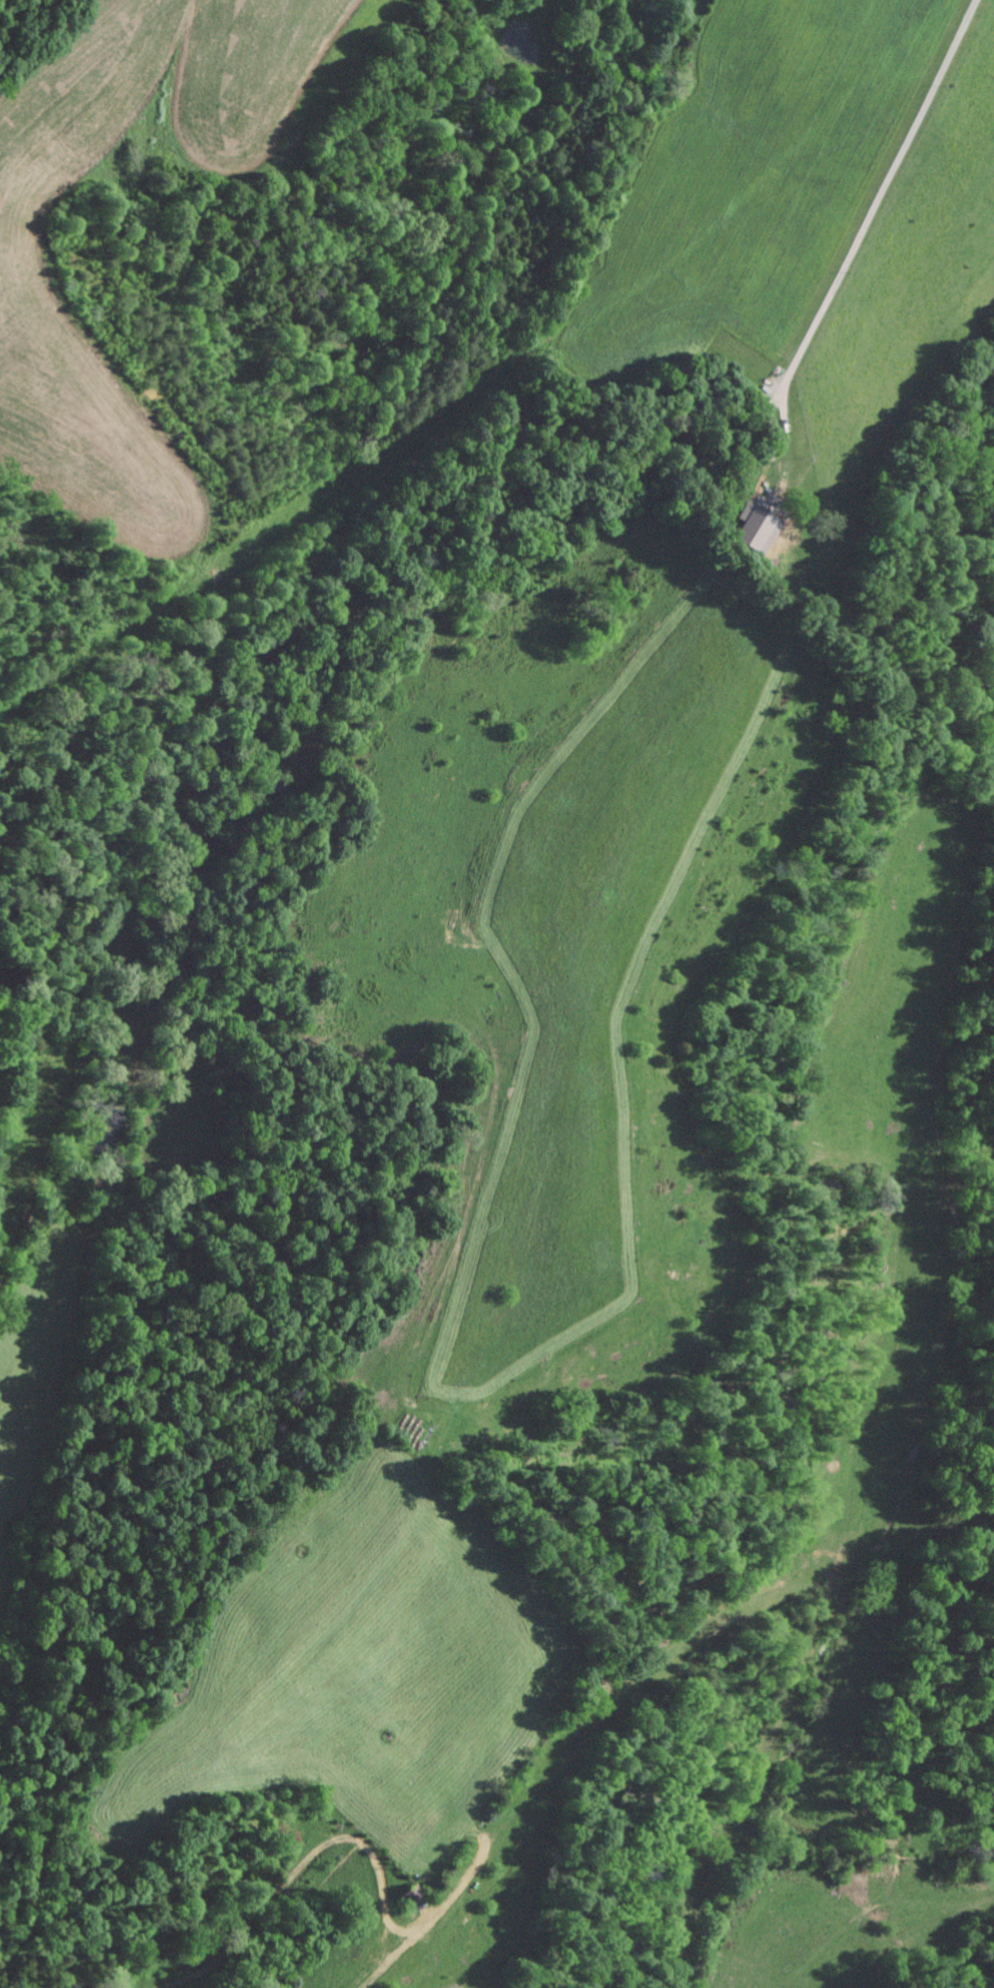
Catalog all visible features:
building: (417, 1897)

